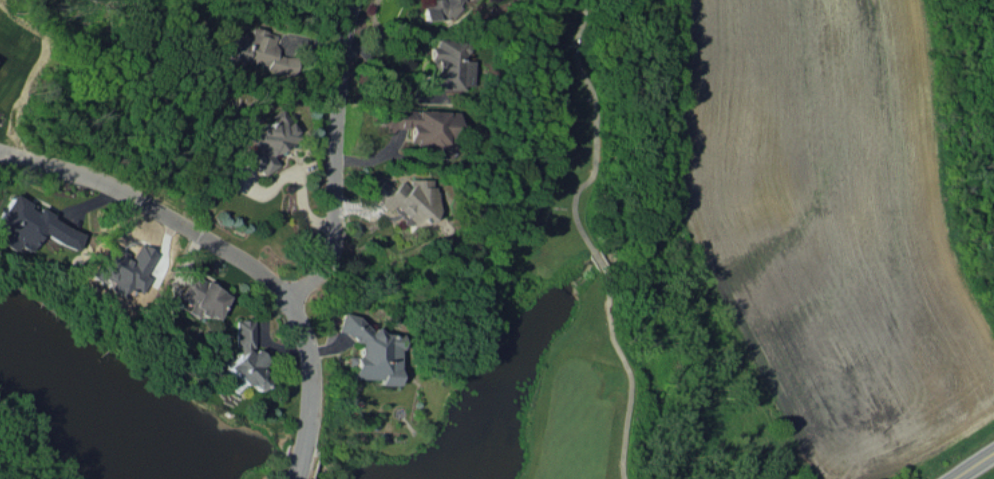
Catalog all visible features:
building: (445, 8)
building: (258, 51)
building: (449, 65)
building: (422, 127)
road: (591, 127)
building: (270, 140)
road: (337, 157)
road: (299, 175)
road: (151, 206)
building: (32, 225)
road: (596, 260)
building: (121, 268)
building: (201, 297)
building: (245, 356)
building: (373, 356)
road: (626, 372)
road: (308, 386)
road: (974, 466)

